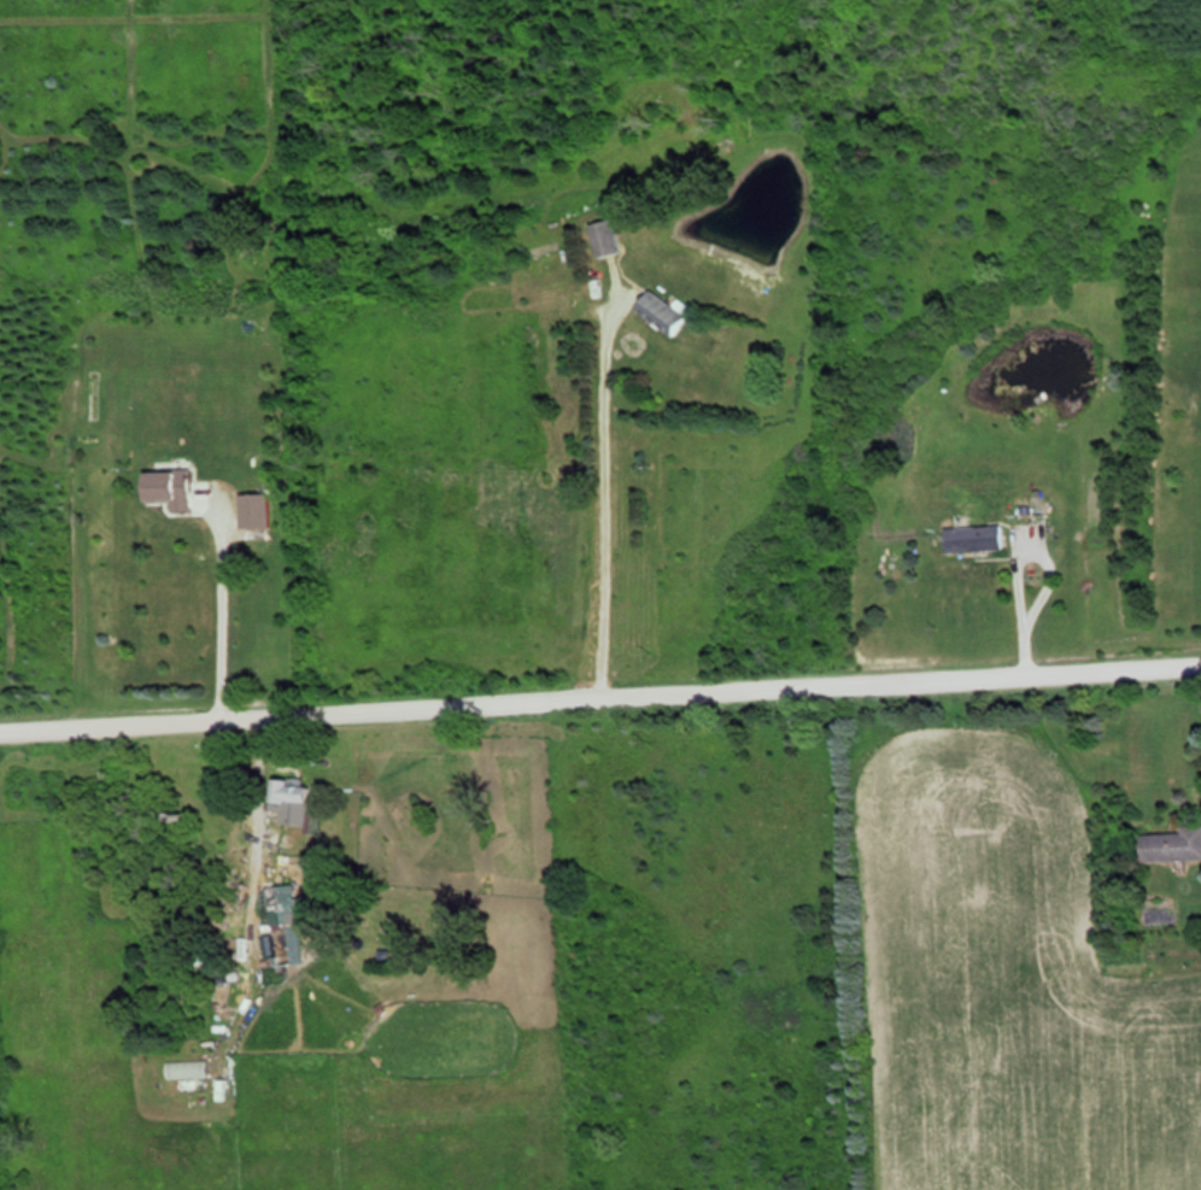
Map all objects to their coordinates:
building: (610, 238)
building: (668, 312)
road: (608, 485)
building: (178, 487)
building: (259, 509)
building: (980, 538)
road: (1024, 599)
road: (224, 600)
road: (600, 690)
building: (301, 790)
road: (251, 843)
building: (1174, 844)
building: (279, 899)

